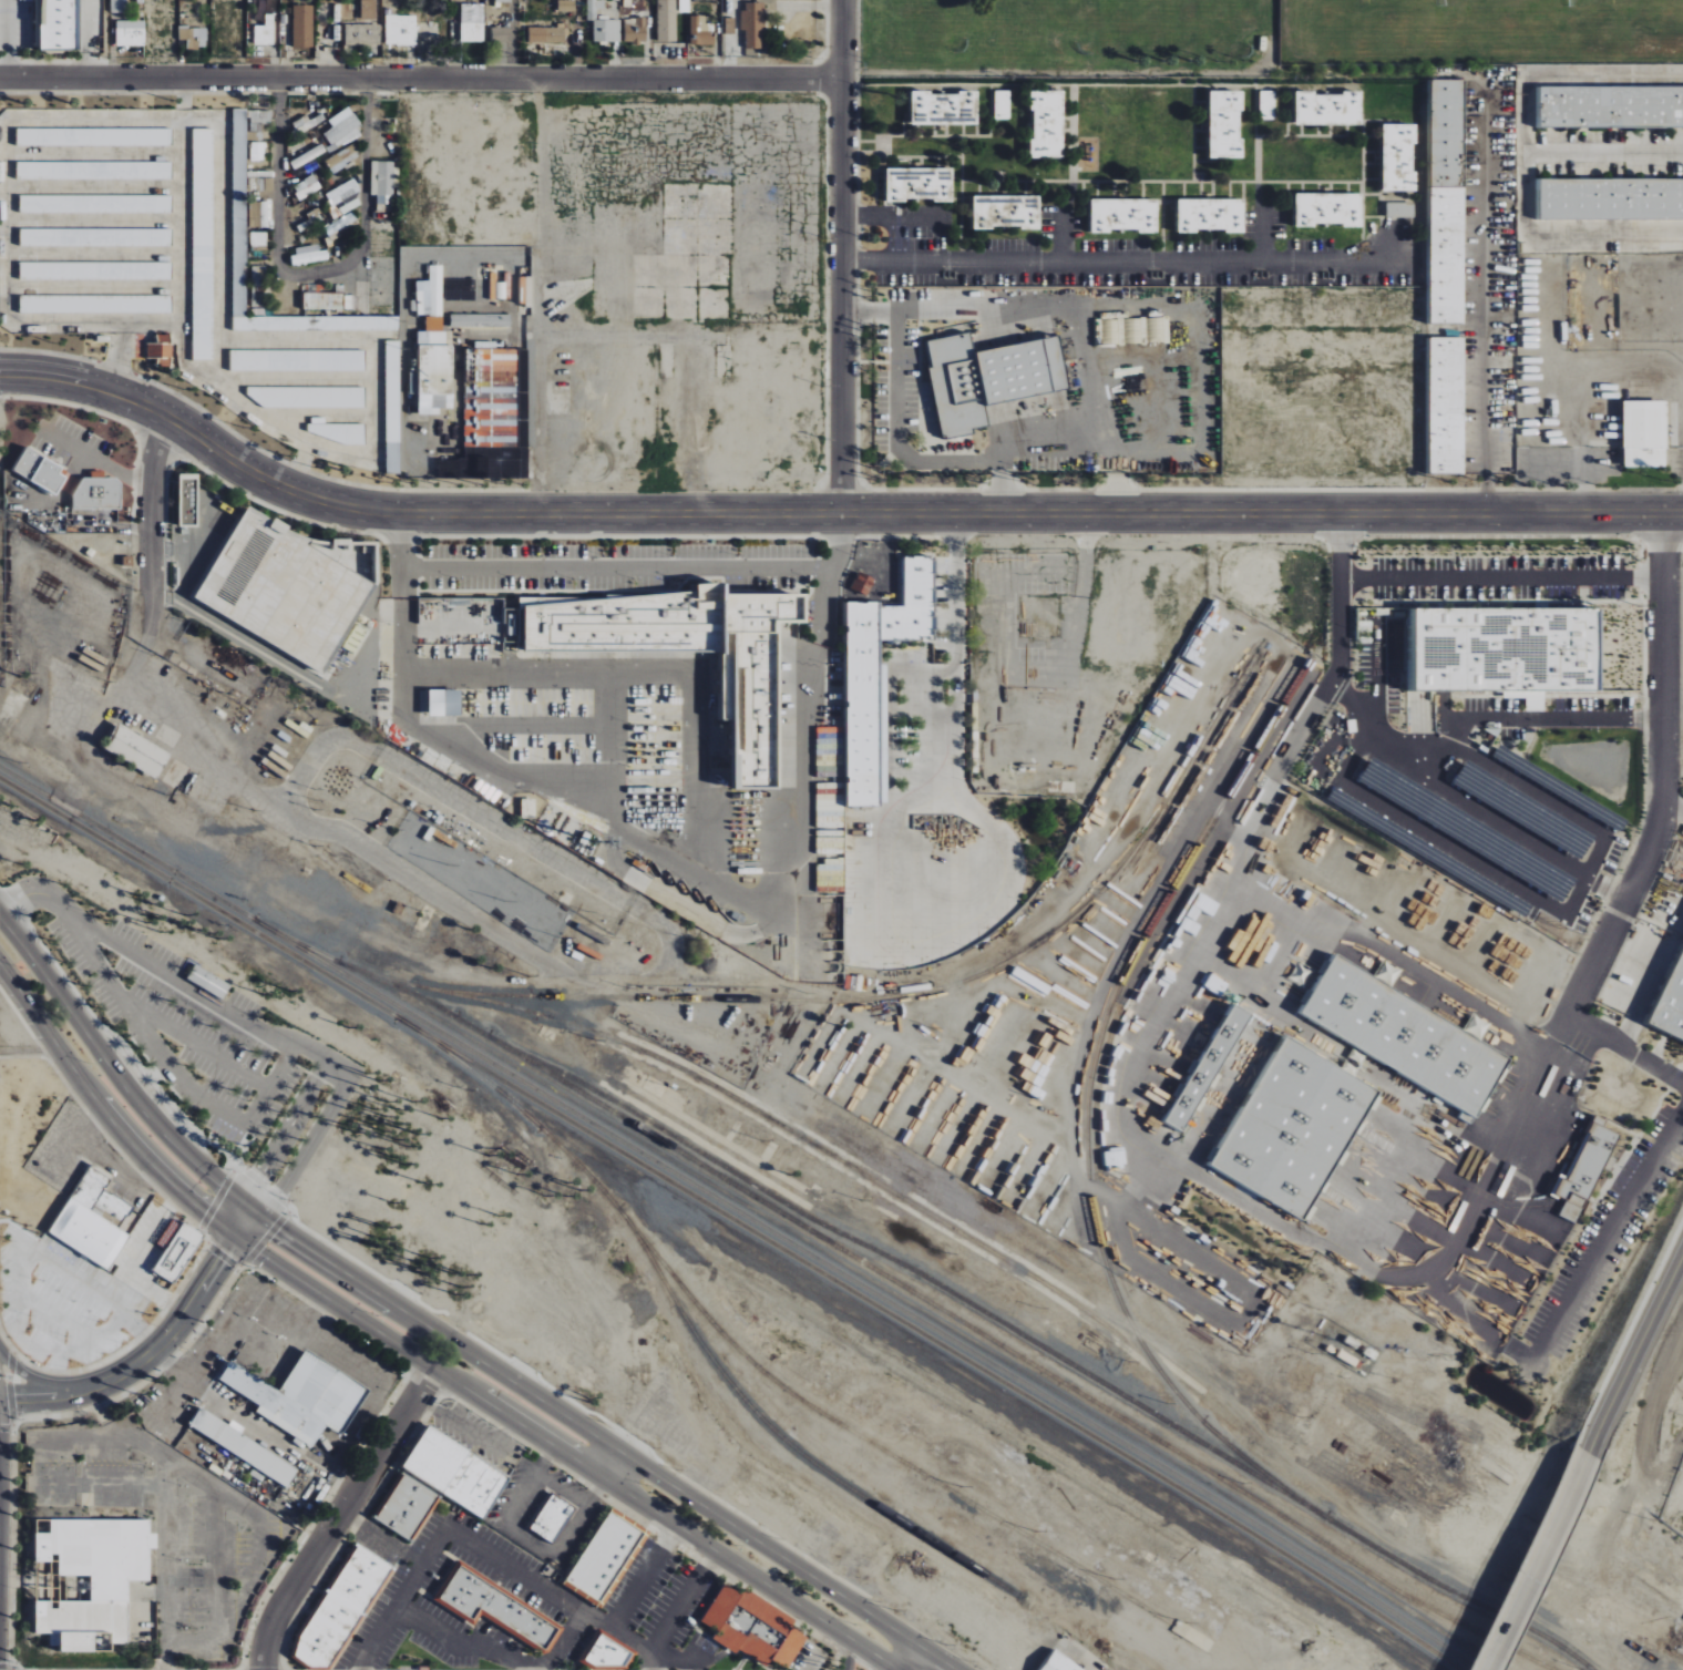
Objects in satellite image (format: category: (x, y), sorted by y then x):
building: (565, 6)
building: (684, 6)
building: (369, 9)
building: (667, 20)
building: (472, 22)
building: (603, 24)
building: (753, 24)
building: (54, 25)
building: (302, 25)
building: (264, 29)
building: (400, 30)
building: (635, 30)
building: (700, 31)
building: (131, 32)
building: (362, 34)
building: (546, 34)
road: (4, 35)
building: (500, 35)
road: (83, 37)
building: (194, 37)
road: (422, 71)
building: (1003, 104)
building: (1268, 104)
building: (1611, 106)
building: (944, 107)
building: (1330, 109)
building: (1047, 123)
building: (1225, 124)
building: (342, 130)
building: (91, 136)
building: (257, 151)
road: (1603, 152)
building: (307, 156)
building: (1398, 157)
road: (1523, 157)
building: (343, 160)
building: (91, 171)
building: (383, 184)
building: (920, 184)
building: (307, 186)
building: (345, 195)
building: (1611, 198)
building: (1447, 201)
building: (92, 203)
building: (1328, 209)
building: (1399, 209)
building: (1006, 212)
building: (237, 213)
building: (258, 214)
building: (1123, 215)
building: (1211, 215)
road: (896, 216)
road: (1059, 229)
building: (93, 237)
building: (258, 240)
building: (201, 244)
building: (309, 255)
road: (846, 255)
road: (1122, 259)
building: (93, 270)
road: (316, 274)
building: (258, 283)
building: (431, 294)
road: (1482, 294)
building: (324, 300)
building: (93, 304)
building: (480, 320)
building: (312, 324)
building: (432, 331)
building: (1135, 331)
road: (290, 341)
building: (162, 350)
road: (119, 357)
building: (295, 360)
building: (434, 378)
building: (989, 378)
building: (306, 397)
building: (1447, 404)
building: (390, 406)
building: (494, 410)
building: (338, 432)
building: (1645, 434)
road: (941, 458)
building: (40, 471)
road: (1000, 483)
building: (98, 493)
building: (188, 500)
road: (825, 511)
road: (884, 544)
road: (156, 554)
road: (616, 570)
road: (954, 572)
road: (1467, 577)
building: (862, 584)
building: (285, 590)
road: (823, 603)
building: (1508, 652)
building: (880, 677)
building: (749, 686)
building: (444, 703)
road: (531, 723)
road: (616, 746)
building: (135, 751)
road: (698, 762)
building: (828, 792)
road: (1671, 807)
building: (527, 808)
road: (802, 809)
road: (1651, 839)
building: (830, 875)
road: (172, 977)
building: (207, 982)
railway: (937, 988)
building: (1673, 1007)
building: (1405, 1033)
road: (31, 1053)
road: (103, 1057)
building: (1207, 1070)
building: (881, 1090)
railway: (1088, 1094)
road: (93, 1096)
railway: (747, 1105)
road: (135, 1128)
building: (943, 1129)
building: (1295, 1129)
road: (283, 1134)
railway: (714, 1136)
road: (307, 1148)
building: (1584, 1170)
traffic signals: (258, 1176)
road: (237, 1200)
traffic signals: (212, 1203)
road: (232, 1210)
railway: (741, 1213)
traffic signals: (205, 1216)
building: (93, 1219)
railway: (732, 1220)
road: (266, 1221)
road: (245, 1225)
road: (220, 1227)
traffic signals: (279, 1230)
road: (1607, 1232)
road: (254, 1236)
traffic signals: (271, 1240)
road: (248, 1246)
road: (229, 1249)
building: (178, 1252)
traffic signals: (222, 1261)
building: (42, 1278)
railway: (906, 1288)
road: (360, 1297)
road: (402, 1297)
railway: (1055, 1354)
road: (1635, 1355)
road: (133, 1366)
road: (521, 1374)
railway: (769, 1377)
building: (302, 1396)
road: (470, 1401)
road: (523, 1411)
road: (511, 1427)
building: (244, 1446)
road: (616, 1449)
road: (551, 1454)
road: (571, 1457)
building: (455, 1472)
railway: (827, 1472)
building: (408, 1507)
road: (167, 1508)
road: (342, 1517)
building: (552, 1517)
road: (300, 1522)
road: (383, 1537)
road: (675, 1537)
road: (557, 1546)
building: (605, 1557)
road: (1536, 1563)
building: (93, 1578)
road: (14, 1579)
road: (543, 1589)
road: (402, 1594)
road: (632, 1596)
building: (495, 1607)
building: (342, 1609)
road: (669, 1622)
building: (753, 1627)
road: (1193, 1637)
road: (461, 1641)
road: (1160, 1646)
road: (843, 1648)
road: (904, 1650)
building: (607, 1651)
road: (1255, 1658)
road: (1229, 1659)
road: (650, 1660)
road: (674, 1661)
building: (1060, 1662)
road: (891, 1664)
road: (1187, 1667)

